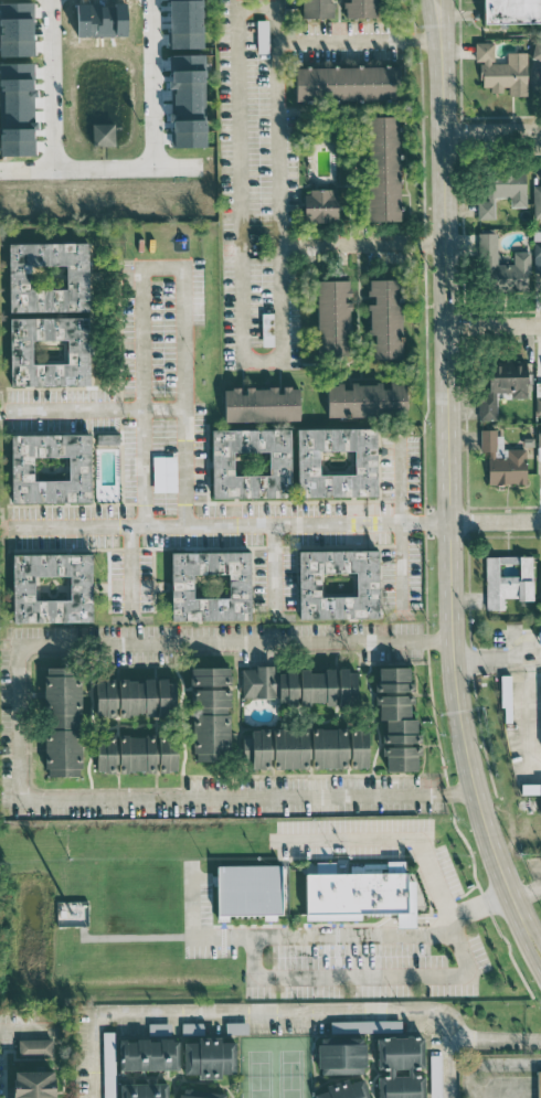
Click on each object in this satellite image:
building: (360, 8)
building: (317, 9)
building: (511, 11)
road: (435, 19)
road: (443, 19)
building: (185, 23)
road: (358, 39)
building: (537, 51)
building: (502, 71)
road: (152, 83)
road: (50, 84)
building: (347, 84)
building: (188, 100)
road: (236, 124)
road: (490, 128)
building: (103, 134)
road: (172, 167)
road: (24, 168)
road: (103, 169)
building: (383, 169)
building: (503, 191)
building: (537, 201)
building: (321, 205)
road: (359, 242)
building: (537, 256)
building: (502, 266)
road: (158, 268)
building: (49, 315)
building: (332, 317)
building: (384, 320)
road: (492, 327)
building: (267, 340)
building: (502, 385)
building: (367, 399)
building: (262, 405)
road: (94, 408)
building: (539, 436)
building: (107, 438)
building: (502, 460)
building: (337, 462)
building: (251, 463)
building: (51, 468)
road: (447, 471)
building: (165, 473)
road: (495, 520)
road: (223, 522)
road: (402, 524)
road: (272, 569)
road: (129, 572)
building: (508, 579)
building: (338, 584)
building: (210, 586)
building: (540, 587)
building: (52, 588)
building: (539, 631)
road: (498, 657)
building: (394, 680)
building: (300, 685)
building: (506, 691)
building: (135, 697)
road: (17, 712)
building: (210, 714)
building: (397, 718)
building: (62, 722)
building: (306, 748)
building: (137, 754)
building: (402, 758)
building: (531, 789)
road: (459, 792)
road: (424, 845)
building: (248, 889)
building: (360, 892)
road: (527, 892)
road: (527, 917)
road: (521, 938)
road: (265, 977)
road: (238, 1011)
building: (365, 1026)
building: (237, 1027)
building: (159, 1028)
road: (26, 1031)
road: (495, 1035)
building: (34, 1046)
building: (150, 1054)
building: (341, 1055)
building: (209, 1057)
building: (108, 1064)
road: (448, 1065)
building: (401, 1067)
road: (468, 1074)
building: (539, 1084)
building: (32, 1085)
road: (537, 1087)
building: (344, 1089)
building: (144, 1090)
building: (200, 1094)

